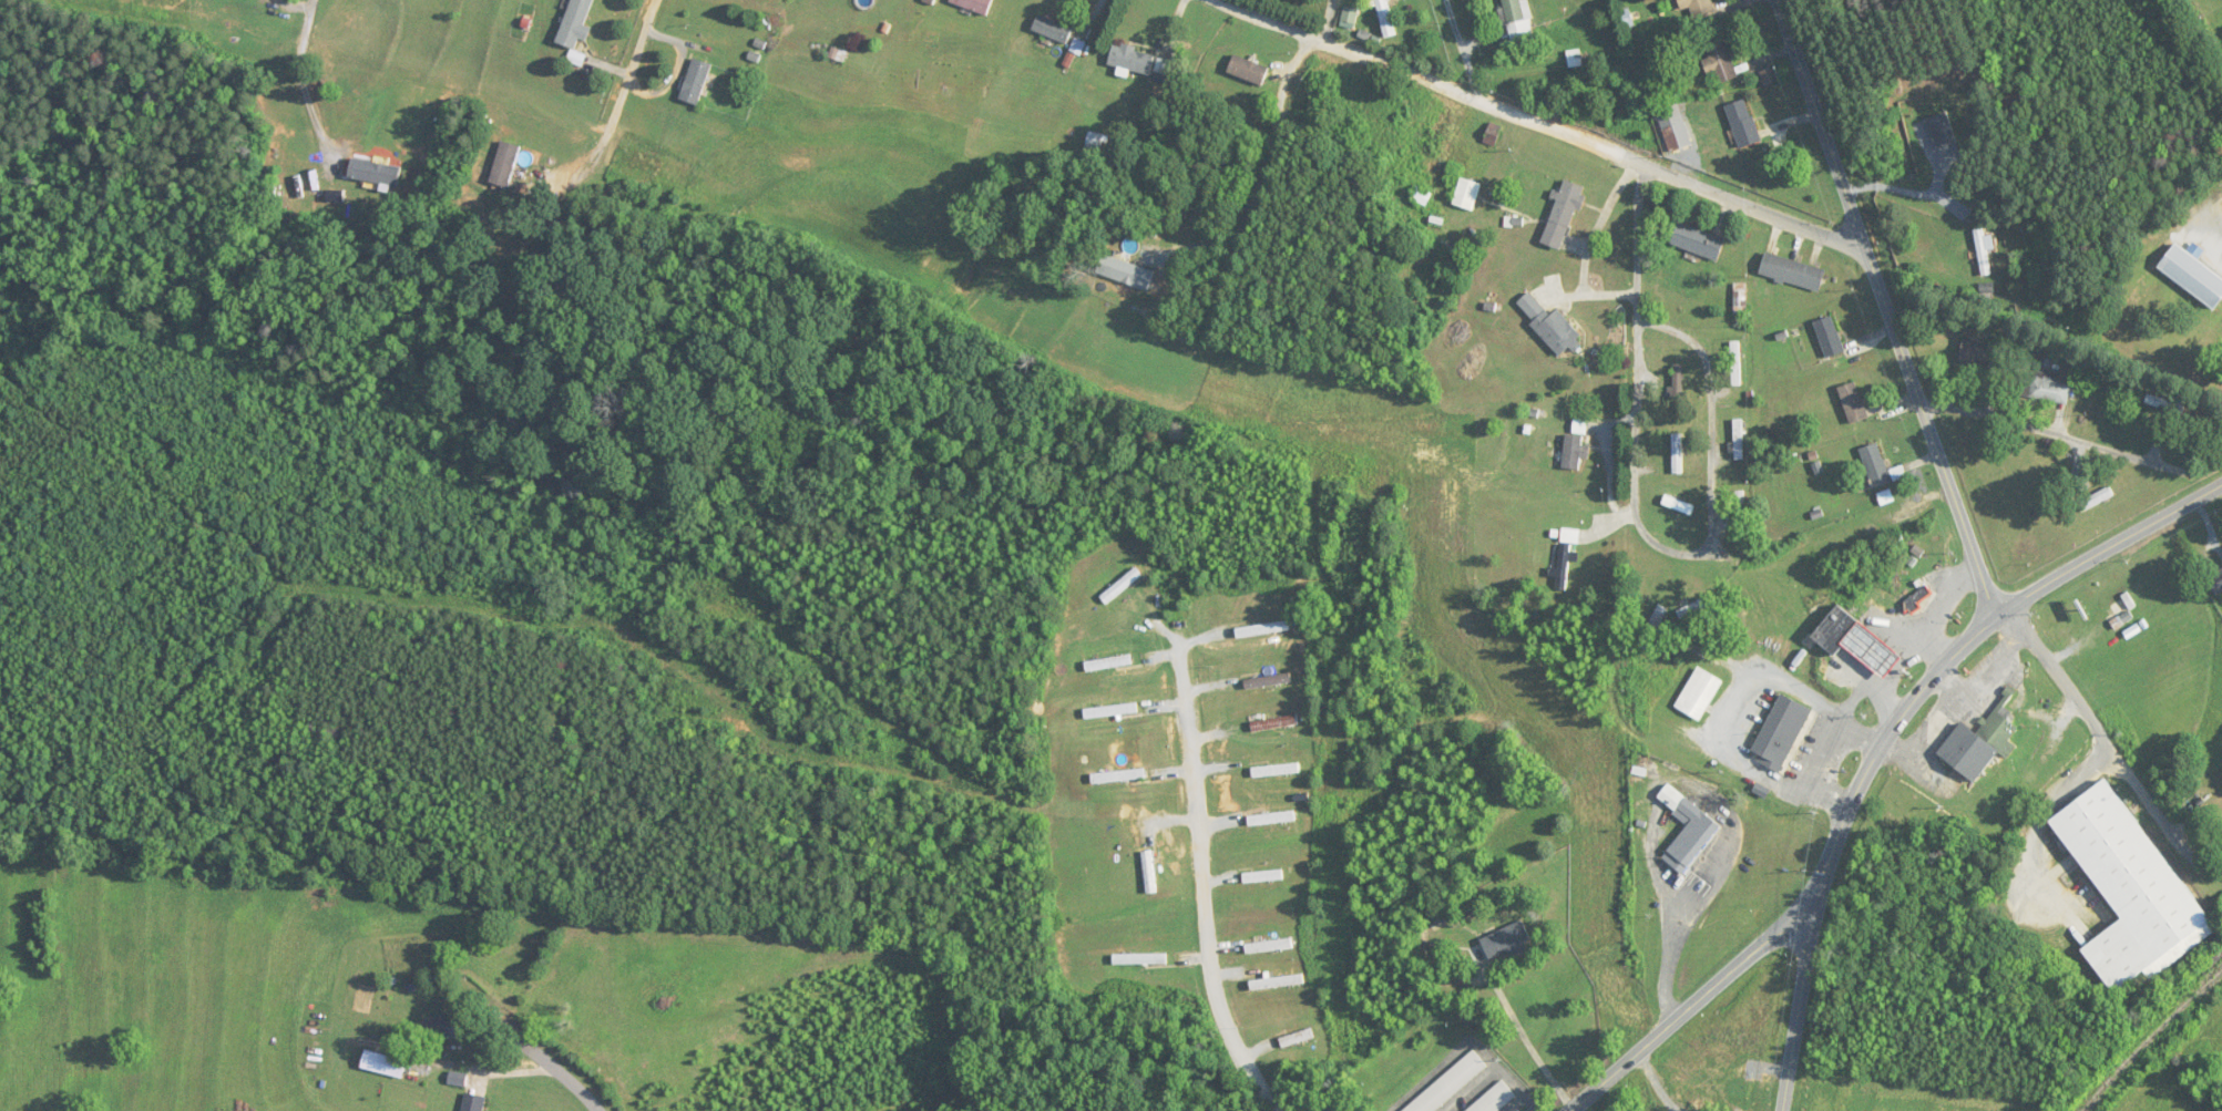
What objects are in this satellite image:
building: (976, 6)
building: (1691, 6)
building: (1348, 18)
building: (1385, 18)
building: (1518, 22)
building: (576, 23)
building: (1052, 29)
road: (1462, 50)
building: (1130, 58)
building: (1719, 59)
building: (1247, 70)
building: (697, 82)
building: (1742, 123)
road: (1537, 124)
road: (281, 125)
building: (1492, 134)
building: (1944, 136)
building: (505, 164)
building: (376, 172)
road: (1269, 176)
road: (606, 183)
building: (1466, 194)
building: (1421, 196)
building: (1561, 215)
building: (1698, 241)
building: (1984, 251)
building: (1791, 271)
building: (1126, 272)
building: (2192, 276)
building: (1740, 298)
road: (1888, 308)
building: (1549, 325)
building: (1829, 337)
road: (1639, 347)
building: (1977, 354)
building: (1735, 363)
building: (2048, 387)
building: (1852, 402)
road: (2052, 429)
building: (1739, 439)
building: (1574, 451)
road: (1711, 451)
building: (1678, 454)
building: (1875, 465)
building: (1678, 512)
building: (1565, 557)
building: (2215, 582)
building: (1122, 586)
building: (2122, 611)
building: (1263, 629)
building: (1854, 641)
road: (1967, 644)
building: (1108, 663)
building: (1268, 681)
building: (1110, 712)
building: (1274, 723)
road: (2099, 730)
building: (1780, 733)
building: (1979, 744)
building: (1276, 771)
building: (1107, 778)
road: (2061, 790)
building: (1271, 820)
building: (1687, 830)
building: (2221, 841)
building: (1149, 873)
building: (1262, 877)
building: (2130, 891)
traffic signals: (1821, 903)
road: (1210, 908)
building: (1501, 944)
building: (1269, 946)
building: (1140, 959)
road: (1671, 959)
building: (1277, 983)
road: (1693, 1004)
road: (1799, 1006)
building: (446, 1027)
road: (1524, 1035)
building: (1298, 1038)
road: (534, 1056)
building: (386, 1064)
road: (511, 1076)
building: (1450, 1084)
building: (1495, 1099)
road: (1527, 1099)
building: (474, 1102)
road: (590, 1103)

